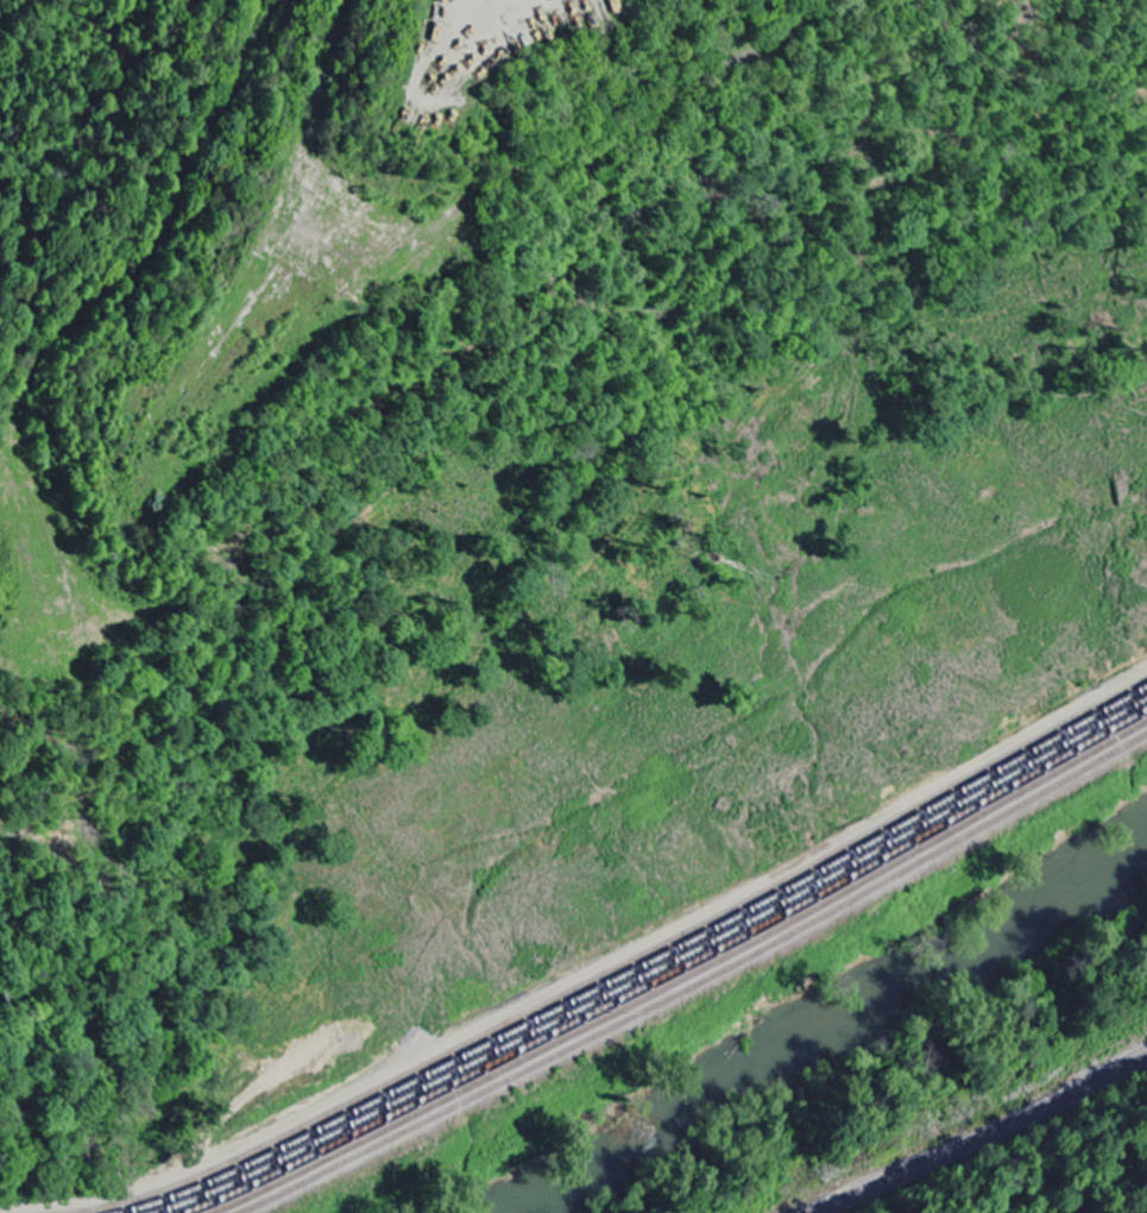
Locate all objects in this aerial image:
railway: (685, 975)
railway: (695, 979)
river: (830, 1027)
road: (983, 1136)

